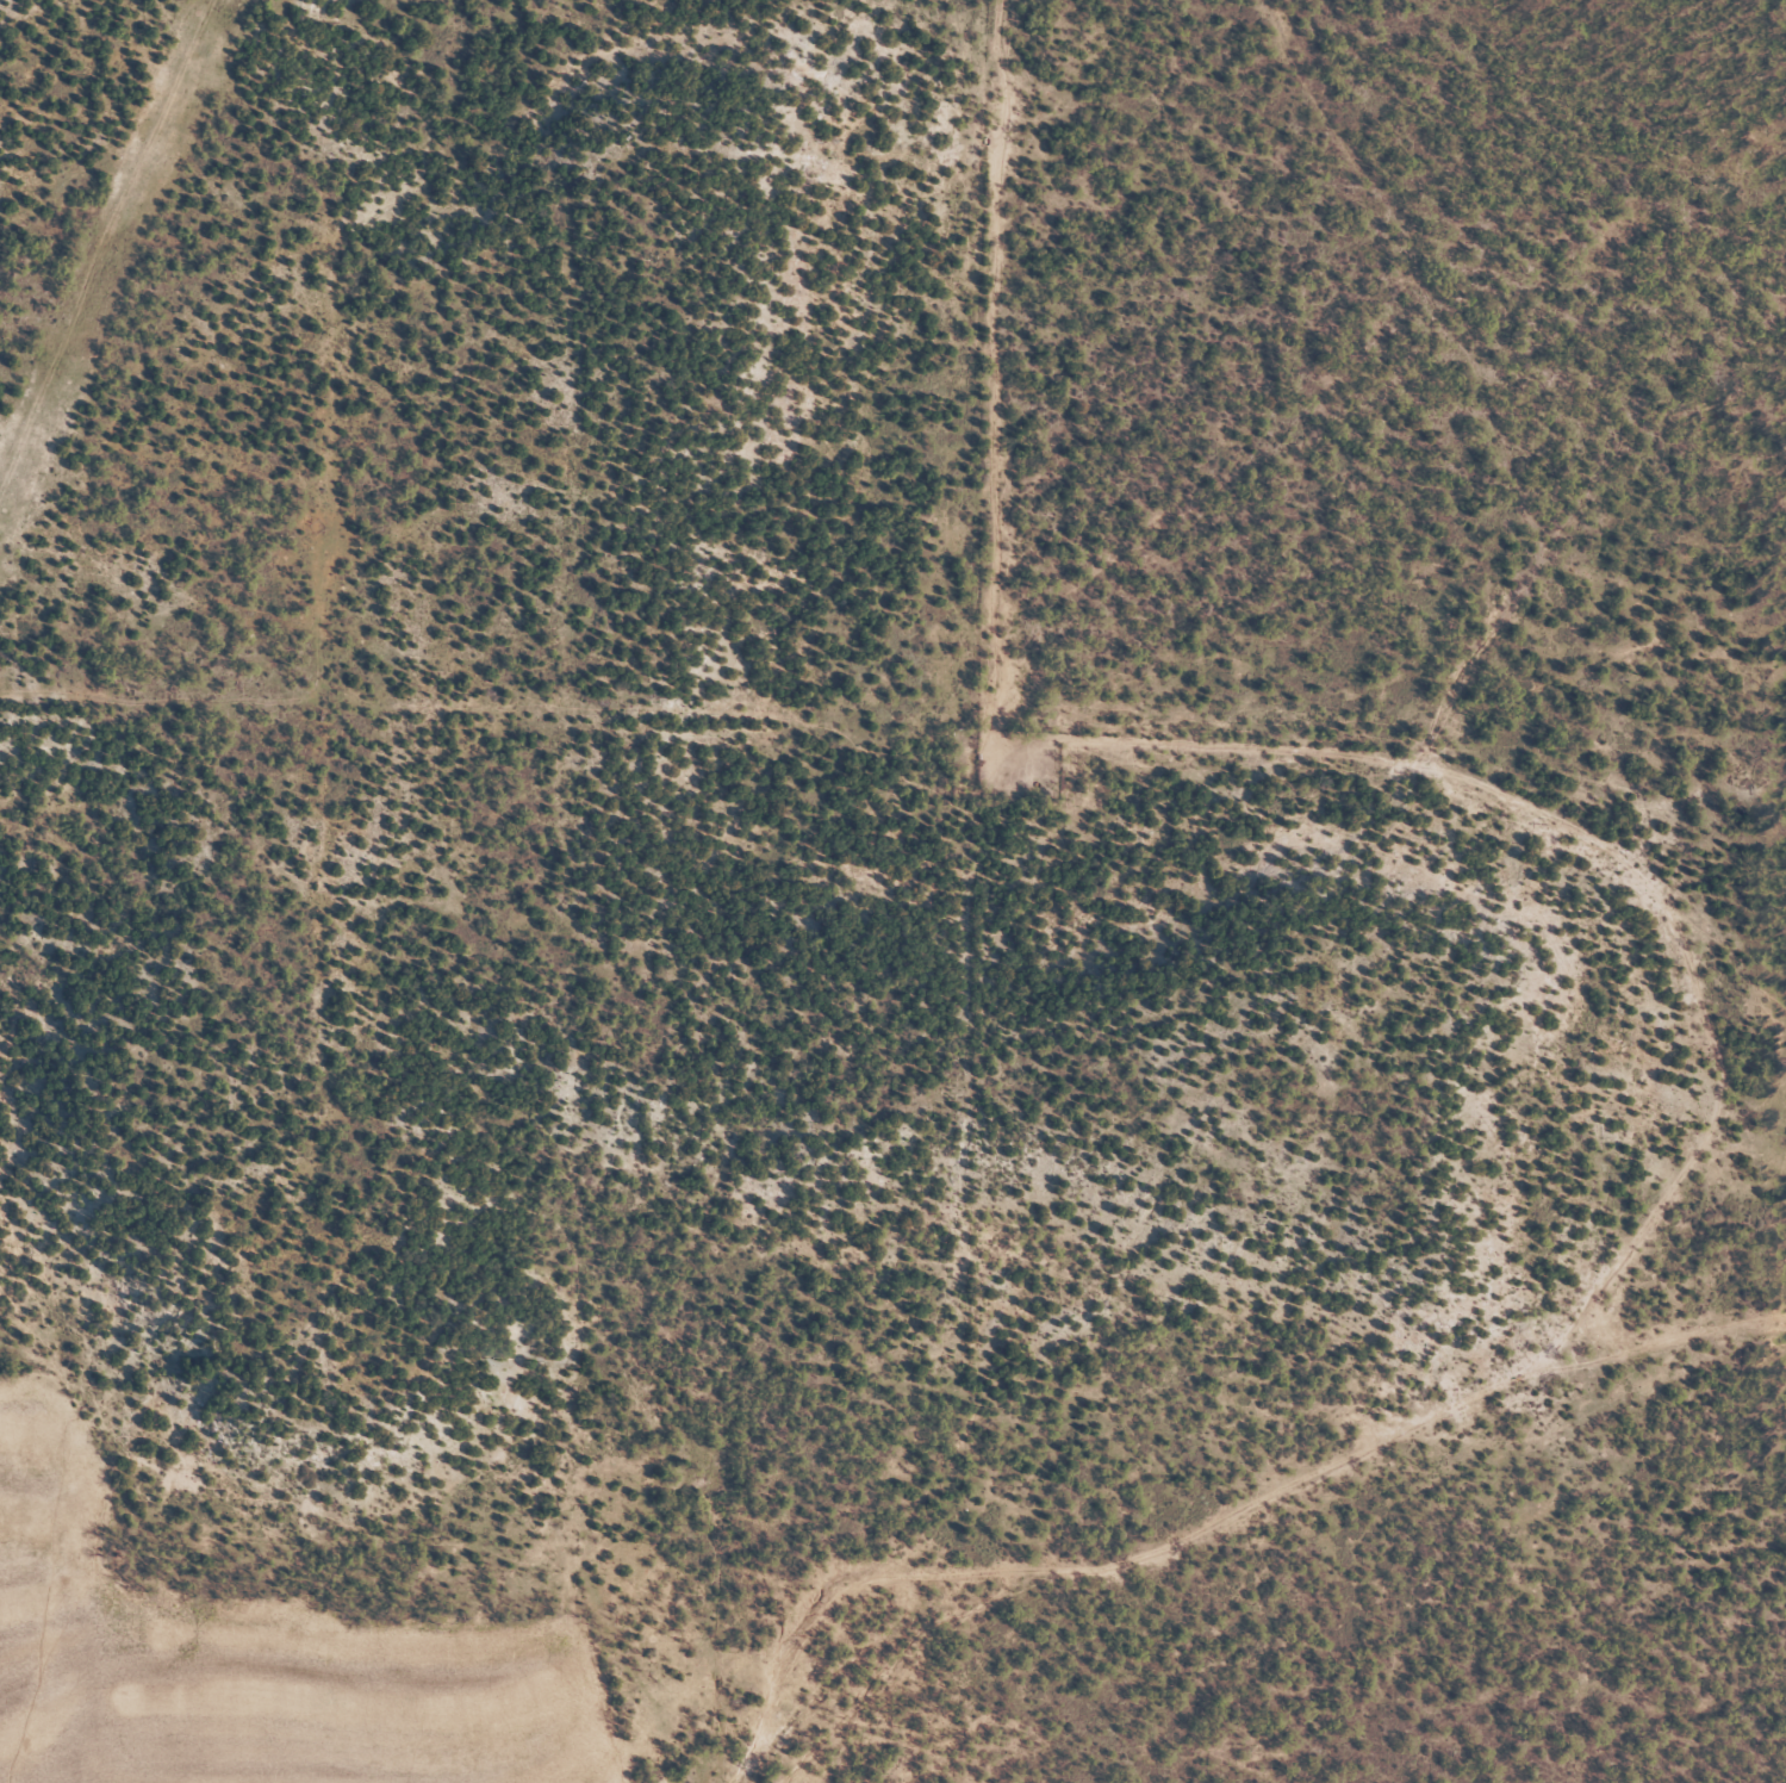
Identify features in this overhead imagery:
road: (337, 267)
road: (1517, 695)
road: (1294, 1503)

